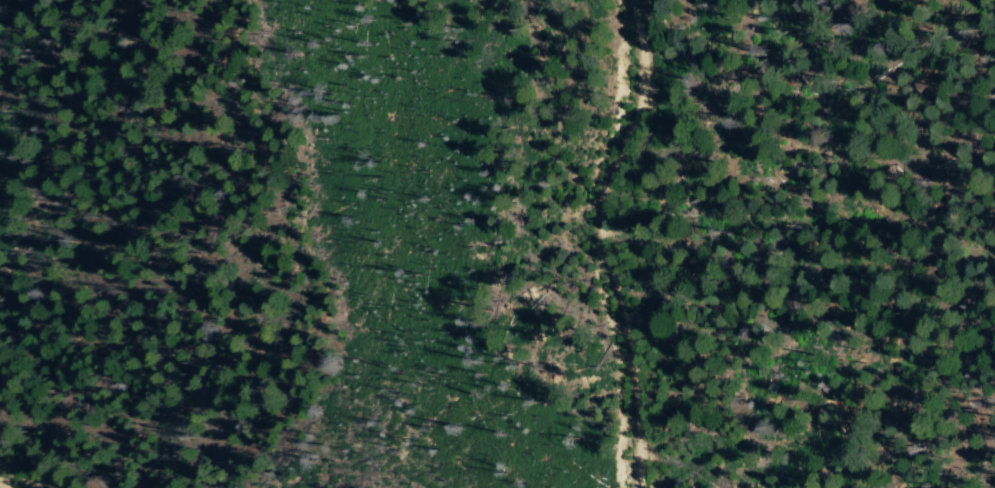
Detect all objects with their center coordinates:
road: (592, 240)
road: (9, 481)

